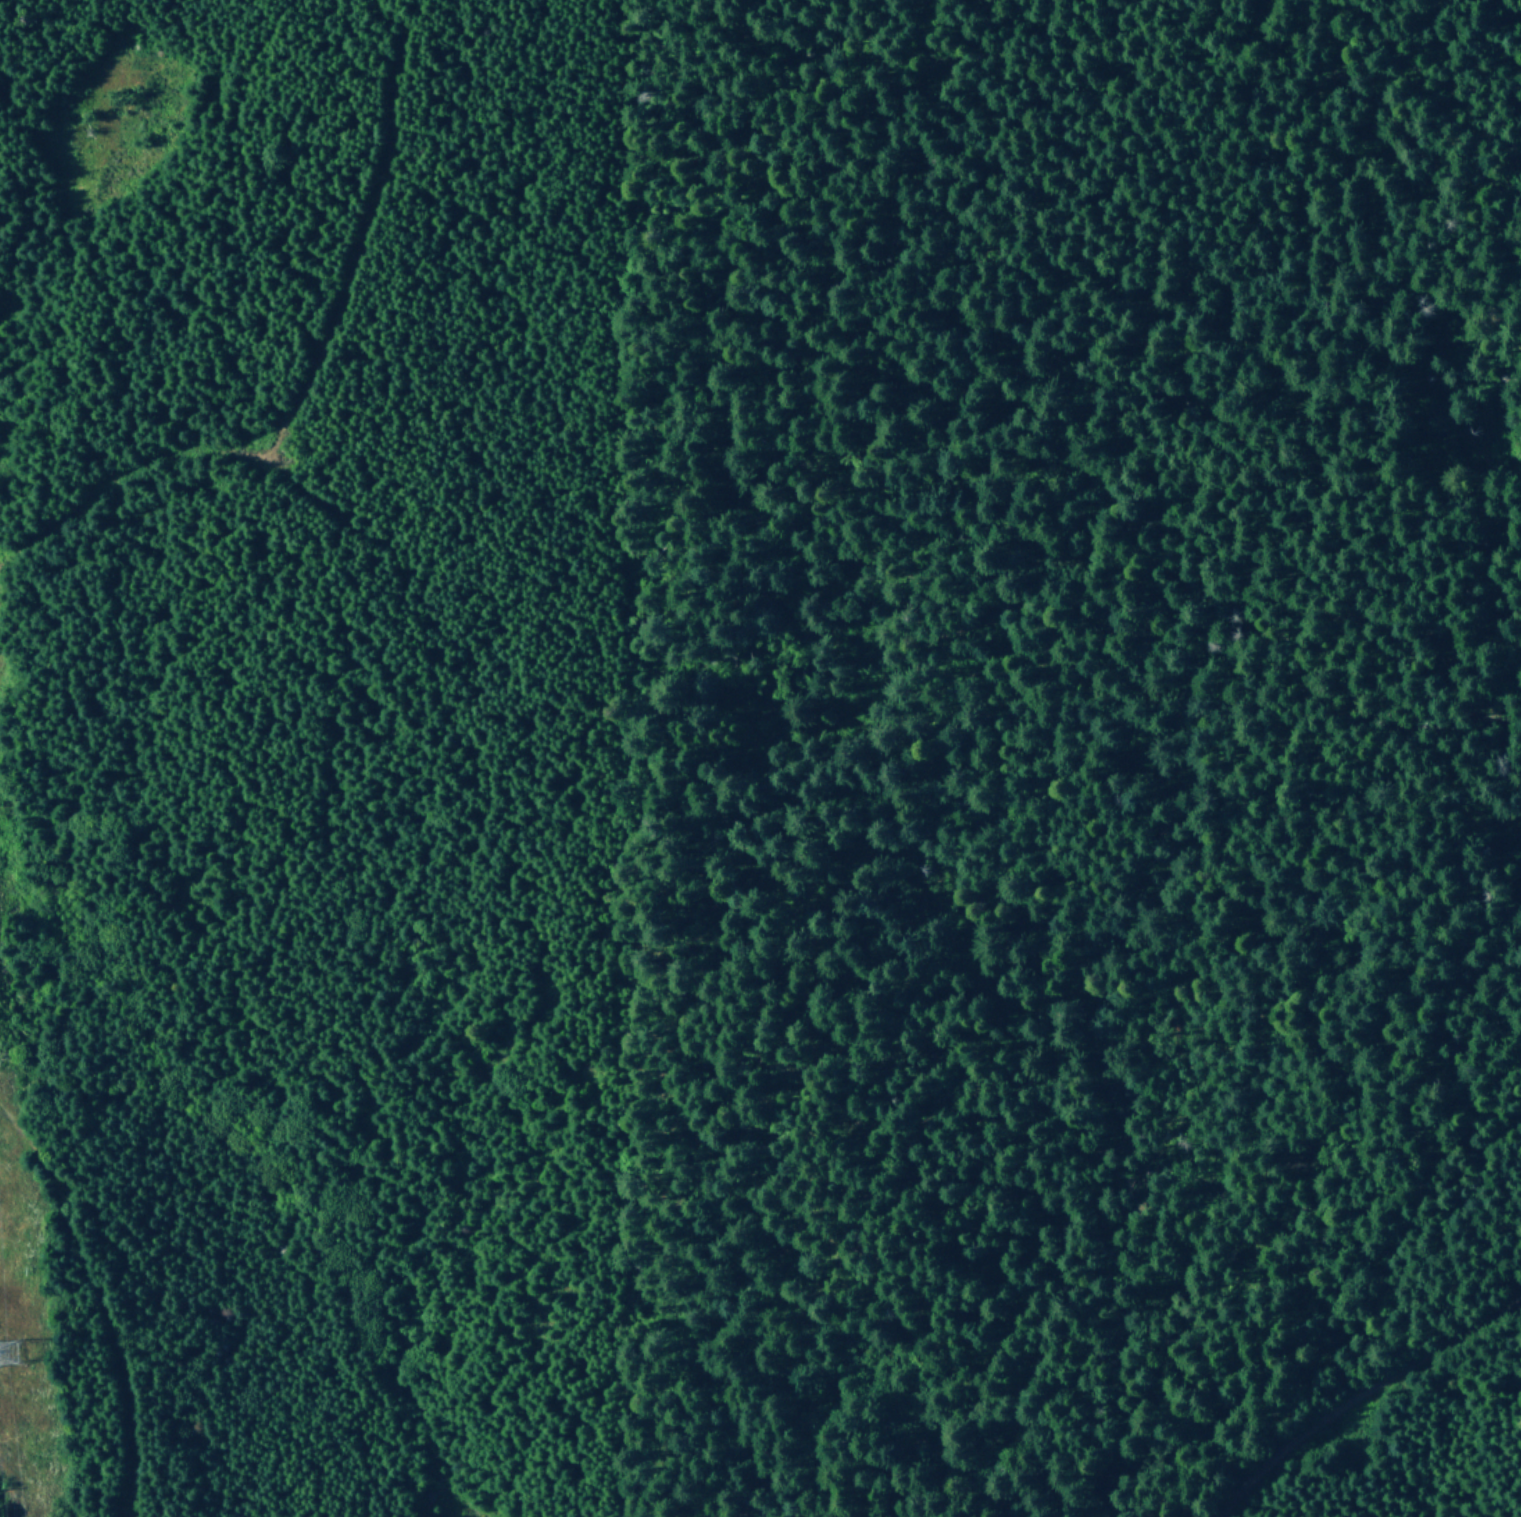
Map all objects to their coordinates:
power tower: (16, 1352)

